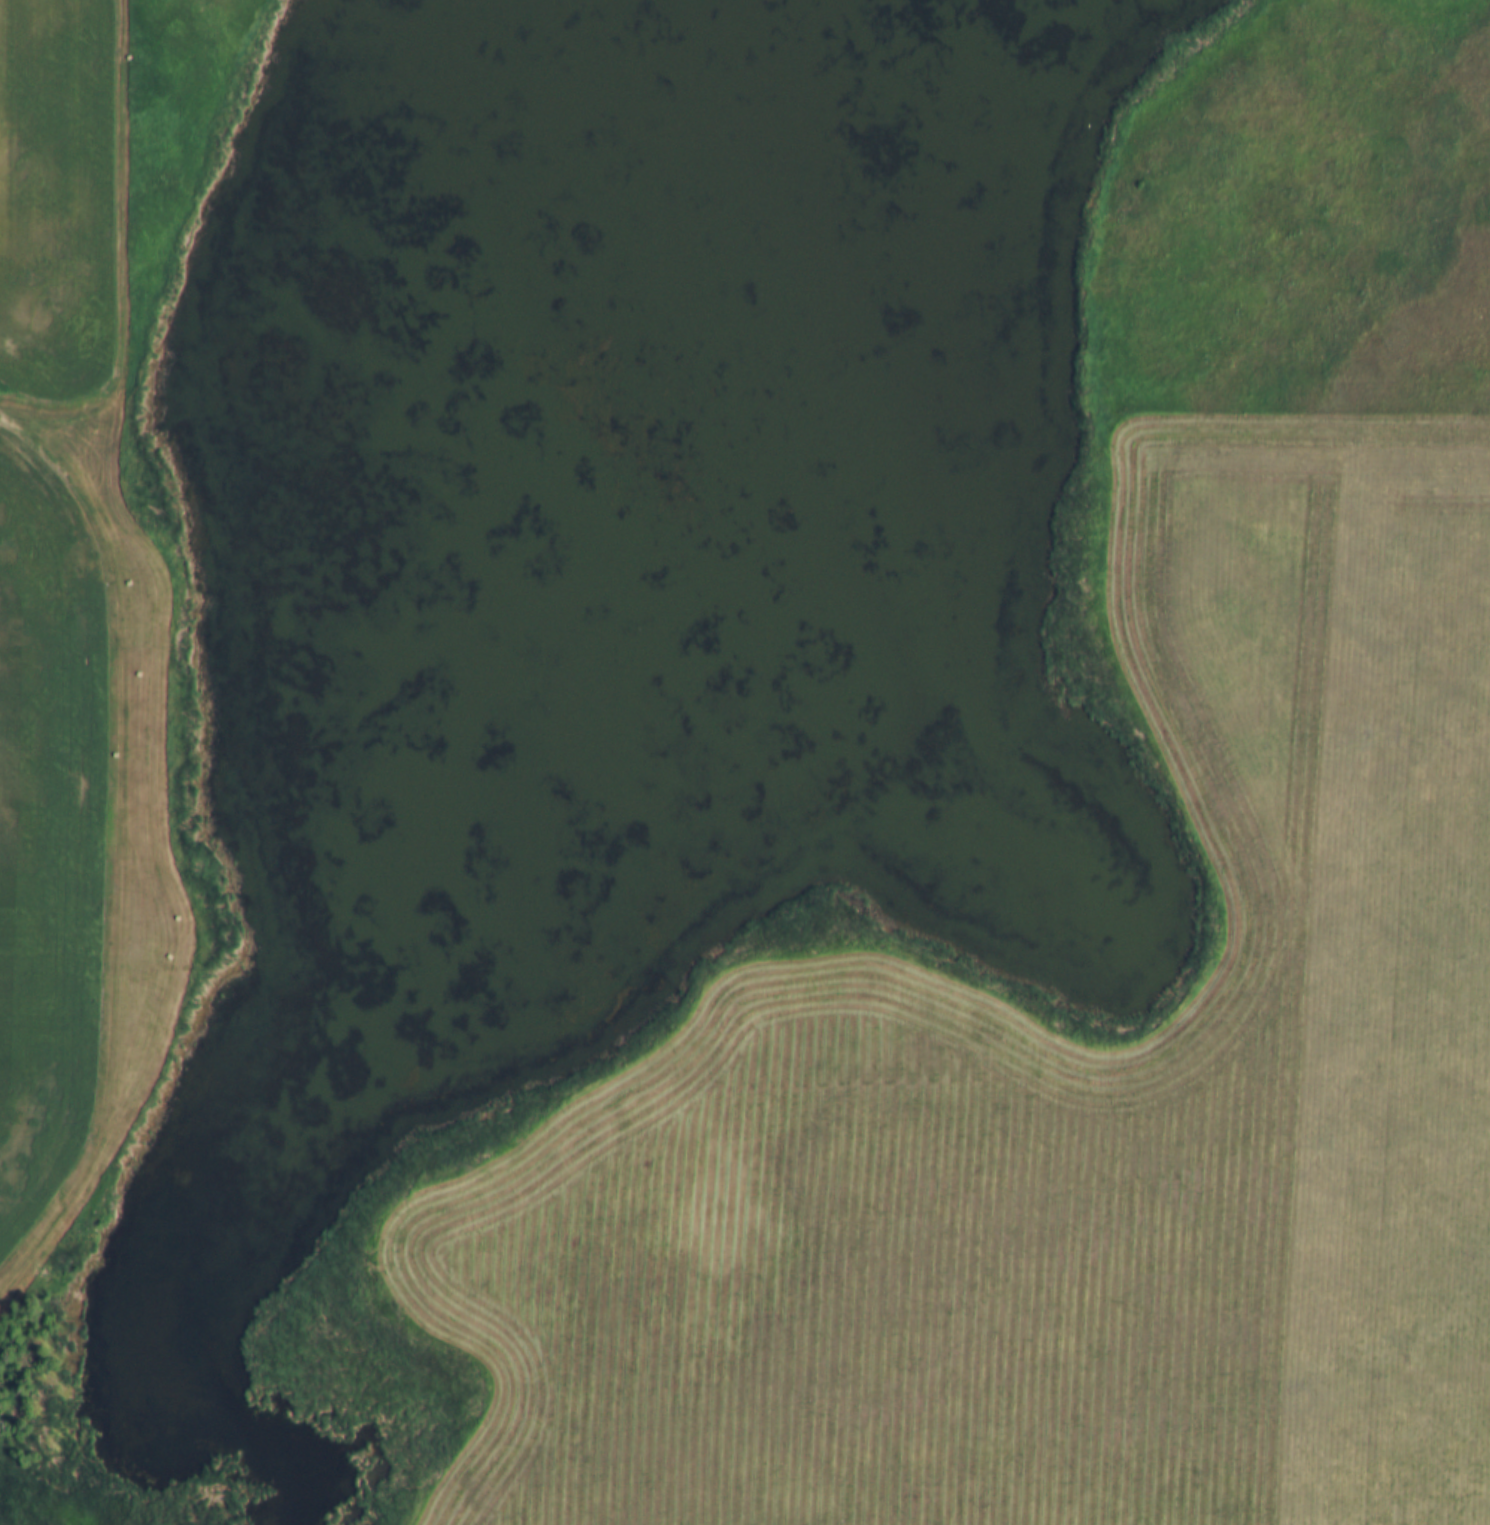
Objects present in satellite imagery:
crop: (51, 191)
crop: (43, 826)

